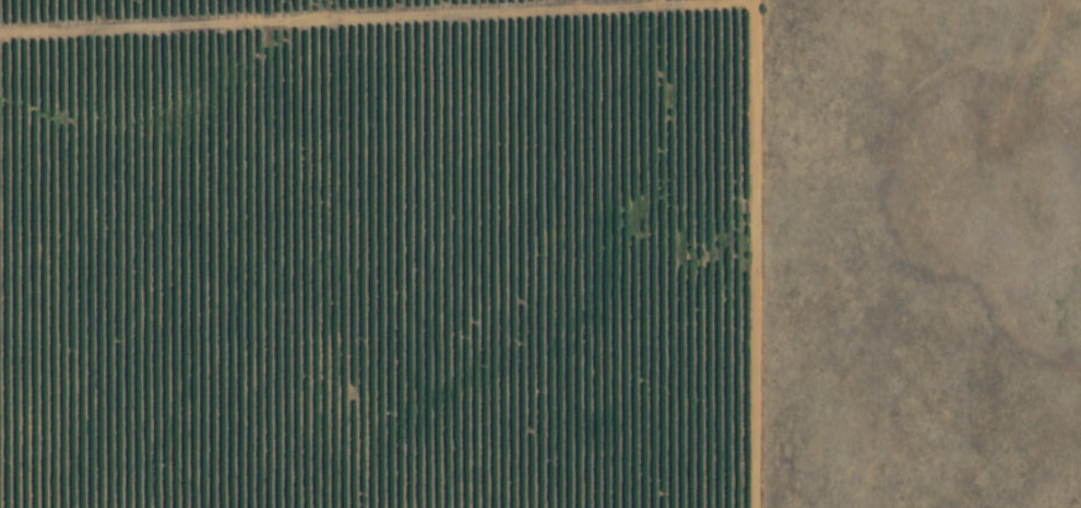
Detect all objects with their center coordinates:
crop: (379, 253)

